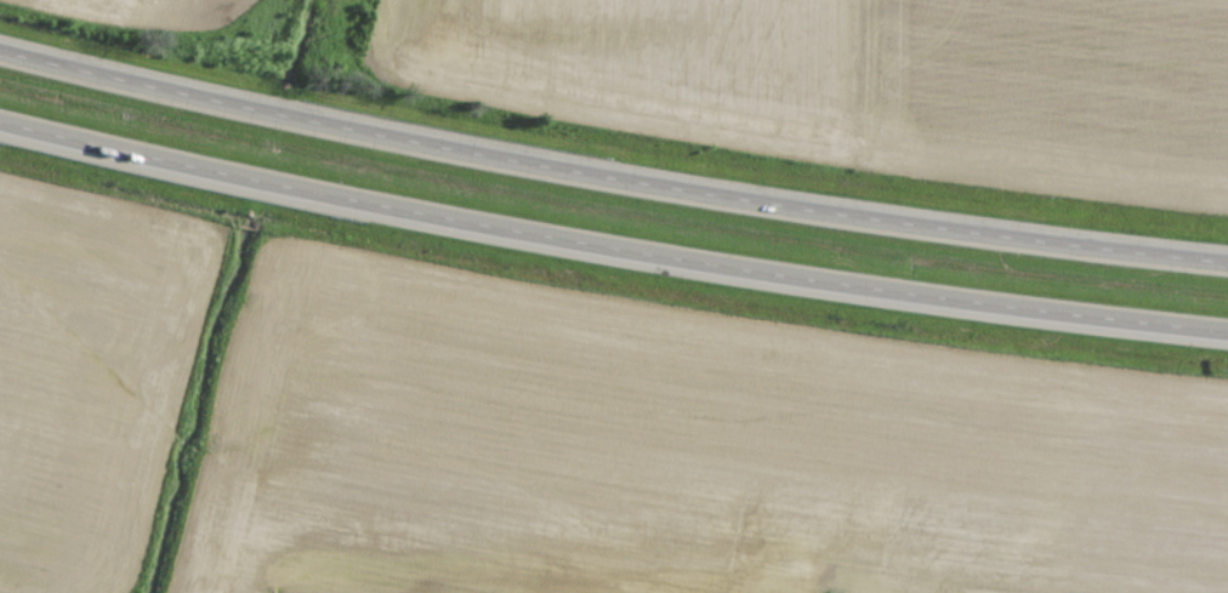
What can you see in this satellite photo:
road: (609, 181)
road: (610, 249)

